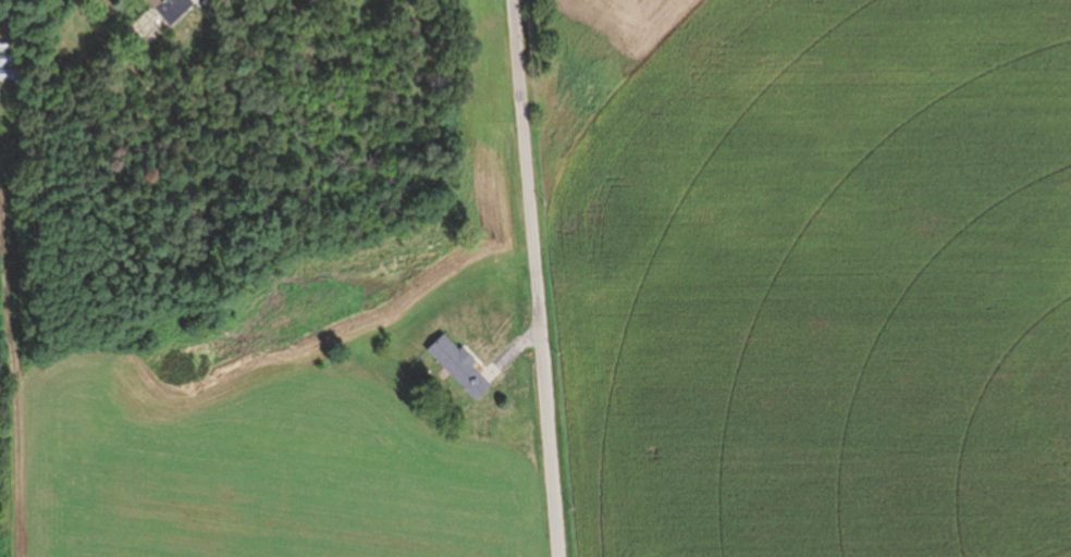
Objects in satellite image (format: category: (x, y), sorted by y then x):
building: (226, 2)
building: (171, 9)
road: (542, 278)
building: (459, 368)

